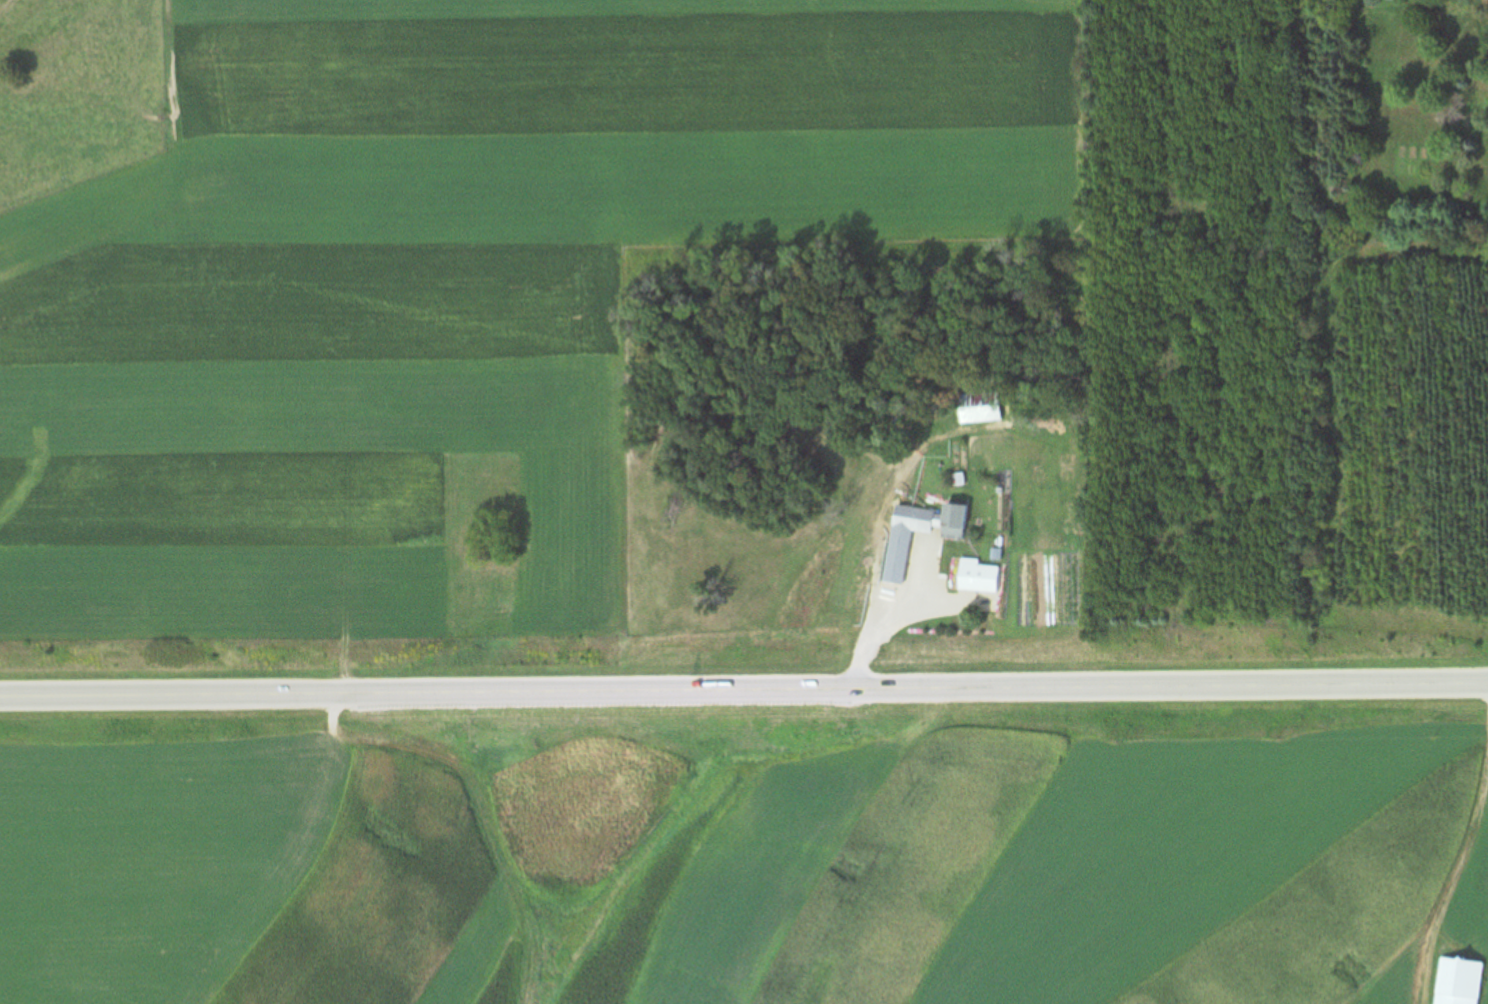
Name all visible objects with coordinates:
building: (952, 521)
building: (909, 555)
building: (978, 576)
road: (877, 629)
road: (743, 690)
building: (1458, 981)

